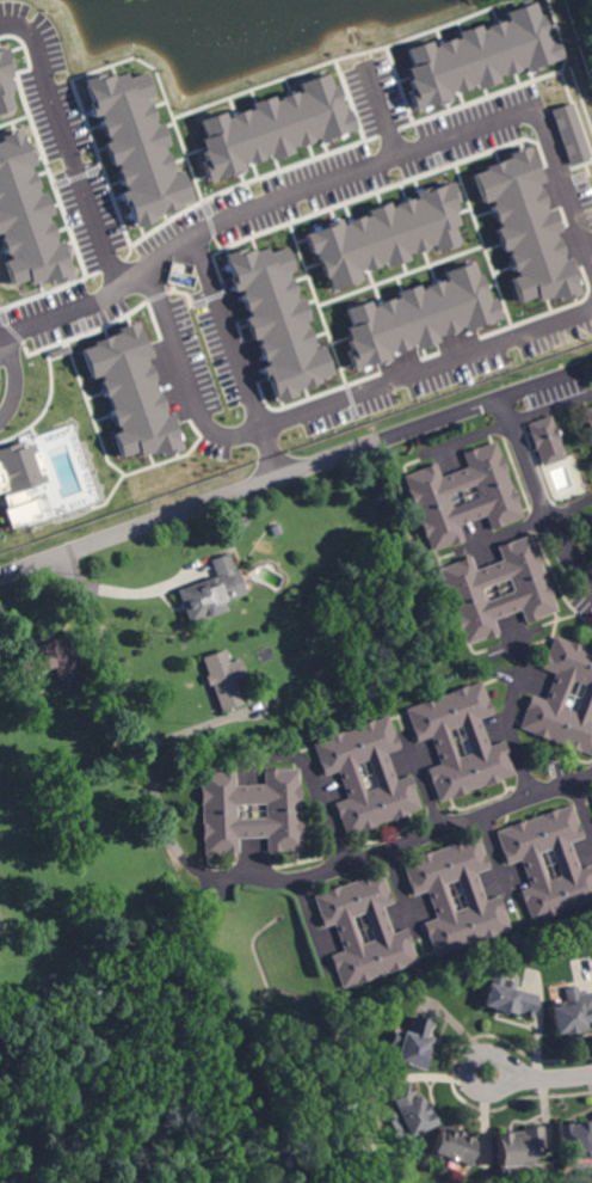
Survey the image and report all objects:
building: (477, 56)
building: (4, 80)
building: (272, 127)
building: (568, 133)
building: (135, 146)
road: (66, 147)
road: (402, 157)
building: (25, 220)
building: (524, 228)
building: (384, 234)
road: (73, 308)
building: (417, 317)
building: (276, 320)
road: (226, 332)
road: (10, 384)
building: (129, 393)
road: (322, 410)
building: (588, 417)
building: (547, 441)
road: (267, 454)
building: (19, 482)
road: (251, 484)
building: (498, 498)
road: (539, 498)
road: (569, 509)
road: (506, 533)
building: (531, 590)
building: (208, 594)
building: (42, 658)
building: (222, 680)
building: (563, 699)
road: (511, 716)
road: (127, 727)
building: (476, 741)
building: (346, 774)
road: (420, 796)
building: (591, 796)
road: (315, 811)
building: (280, 813)
road: (407, 842)
road: (495, 860)
building: (566, 863)
building: (473, 899)
building: (344, 931)
building: (87, 982)
building: (506, 998)
building: (569, 1018)
building: (412, 1044)
road: (539, 1078)
building: (408, 1110)
building: (573, 1141)
building: (451, 1147)
building: (516, 1147)

